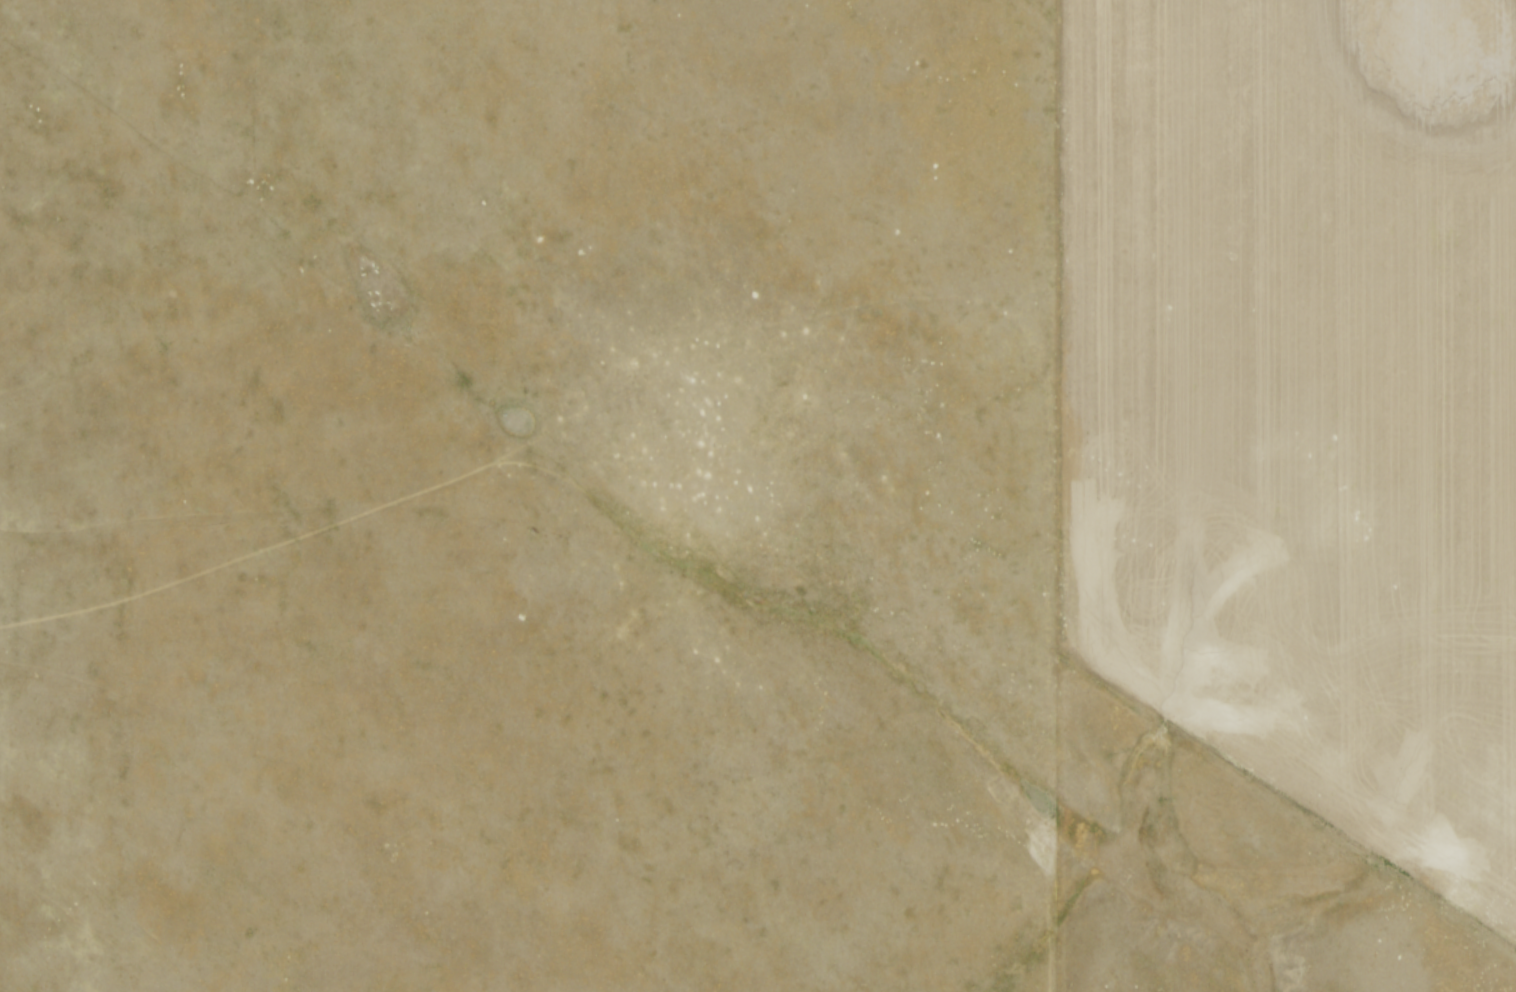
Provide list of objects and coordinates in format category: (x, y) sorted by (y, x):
crop: (1303, 404)

